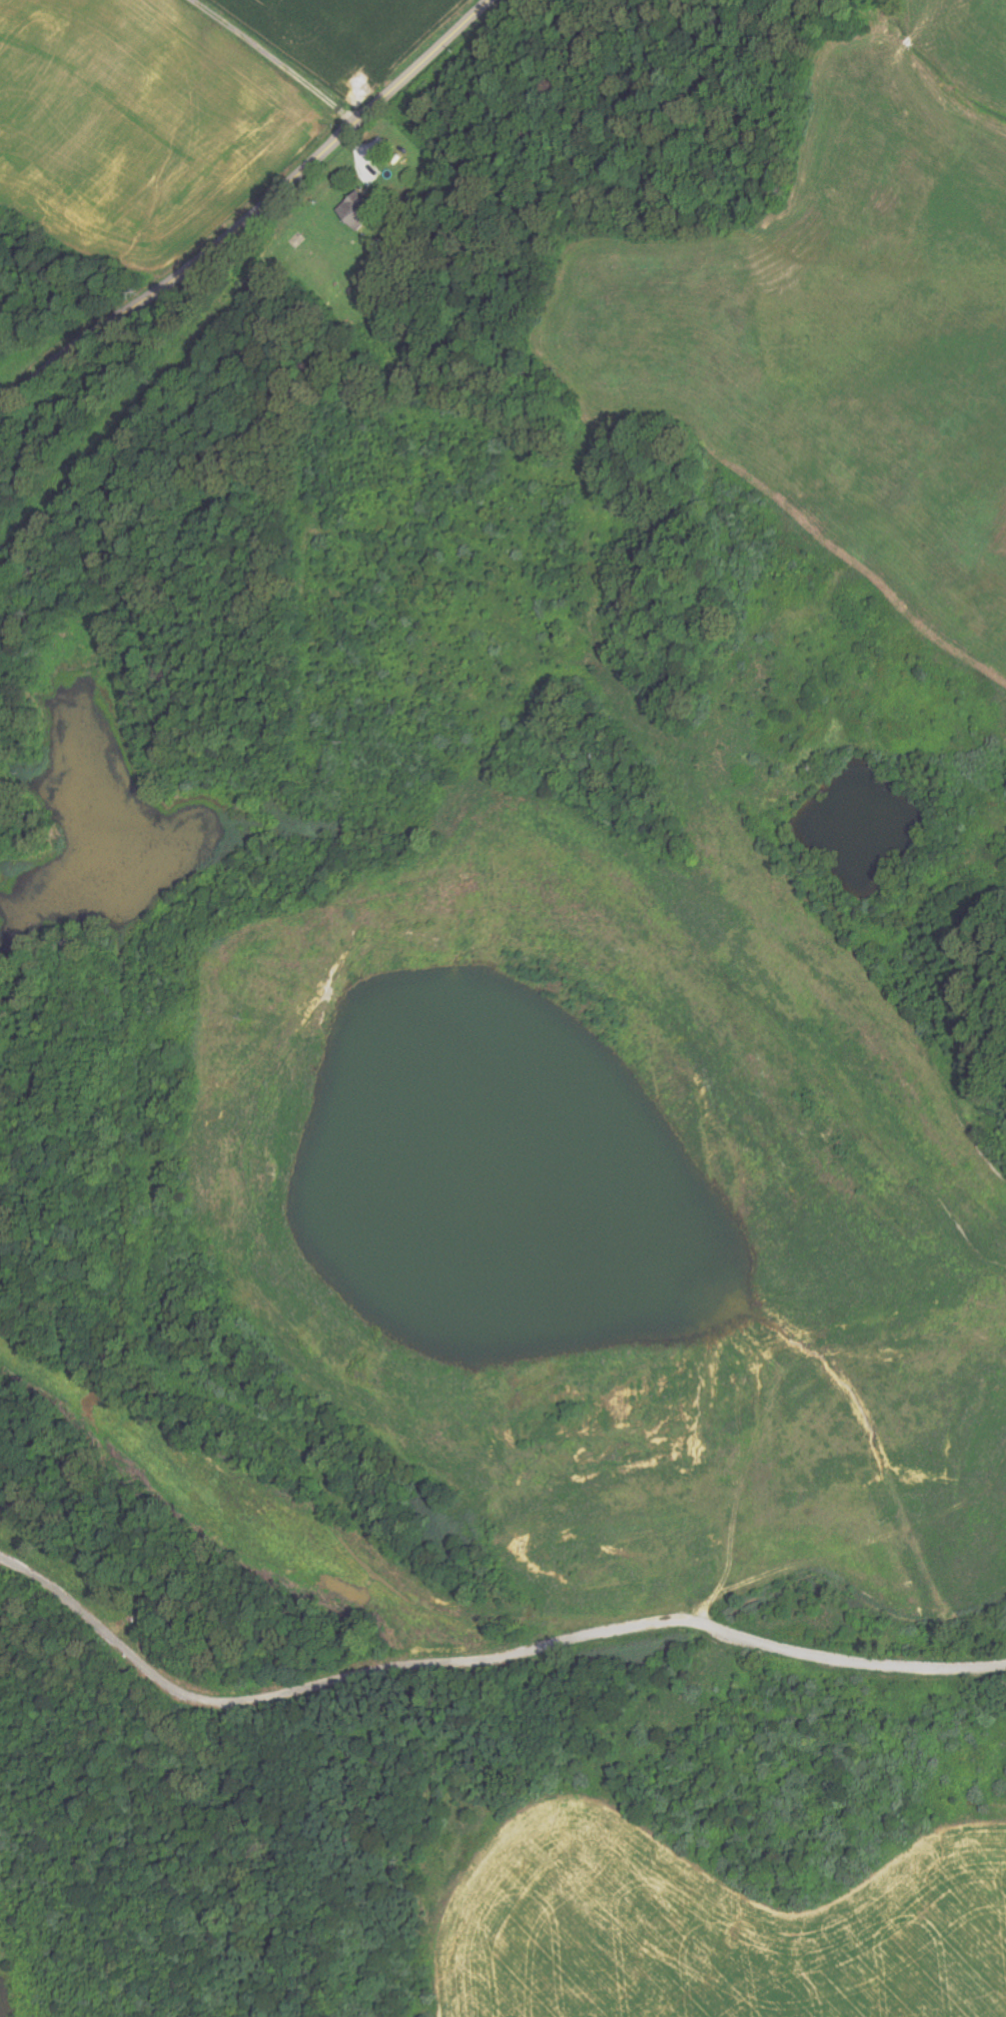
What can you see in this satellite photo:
road: (274, 60)
building: (362, 211)
road: (251, 216)

